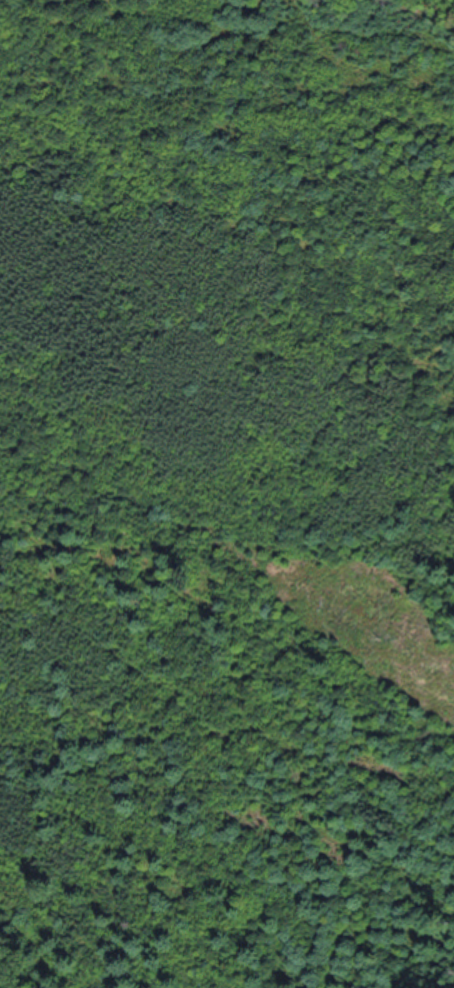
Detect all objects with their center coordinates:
park: (227, 744)

